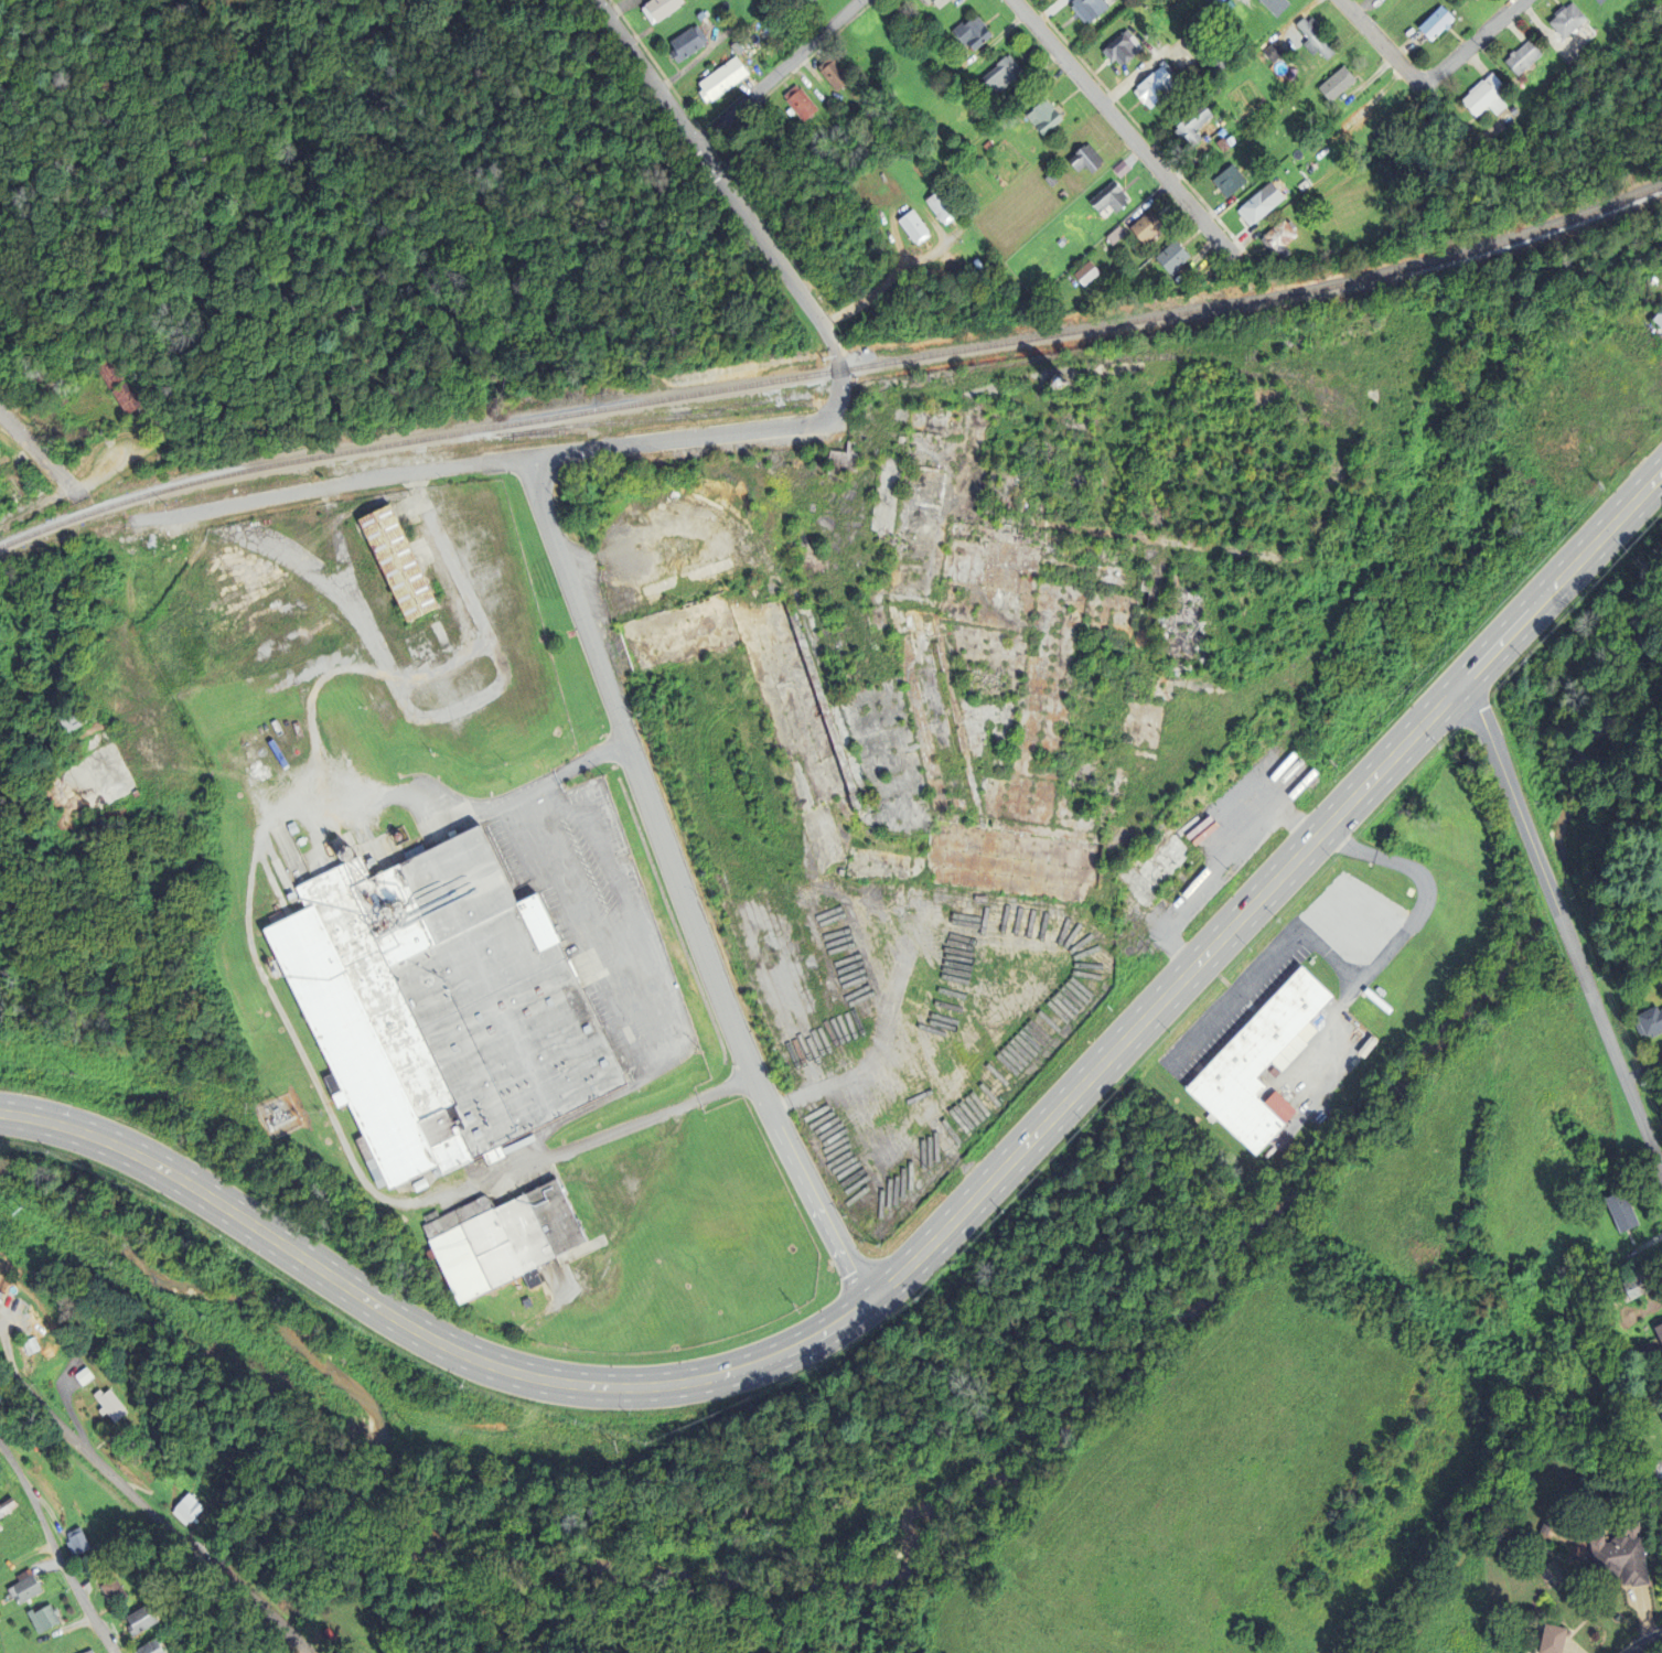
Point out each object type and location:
building: (1472, 0)
building: (808, 1)
building: (1597, 1)
building: (932, 3)
building: (656, 9)
building: (1084, 10)
building: (1563, 22)
building: (1433, 25)
building: (968, 34)
building: (1312, 41)
building: (684, 44)
road: (1376, 45)
road: (1468, 45)
building: (1119, 50)
building: (1519, 60)
building: (1218, 61)
road: (778, 74)
building: (829, 75)
building: (998, 76)
building: (718, 80)
building: (1333, 85)
building: (1151, 89)
building: (1481, 99)
building: (796, 104)
building: (1040, 118)
building: (1188, 128)
road: (1123, 132)
building: (1082, 161)
building: (1225, 182)
building: (1106, 201)
building: (937, 210)
building: (1252, 210)
building: (910, 227)
building: (1141, 229)
building: (1275, 241)
building: (1167, 259)
road: (898, 277)
building: (1658, 318)
railway: (832, 372)
building: (116, 385)
road: (39, 451)
building: (840, 460)
road: (324, 486)
road: (544, 509)
building: (394, 561)
building: (1182, 627)
building: (66, 719)
river: (1587, 723)
building: (86, 781)
river: (1545, 878)
road: (1557, 908)
building: (438, 1006)
building: (1648, 1021)
building: (1253, 1062)
power substation: (280, 1115)
road: (660, 1115)
crop: (1554, 1127)
road: (1654, 1151)
building: (1618, 1212)
road: (933, 1234)
building: (496, 1238)
building: (1636, 1285)
building: (1658, 1334)
building: (1543, 1389)
building: (107, 1406)
building: (1660, 1415)
building: (138, 1461)
crop: (1198, 1495)
building: (4, 1504)
building: (184, 1510)
road: (151, 1511)
building: (1544, 1527)
building: (73, 1542)
road: (55, 1548)
building: (1619, 1555)
river: (827, 1582)
building: (20, 1589)
building: (108, 1592)
building: (40, 1619)
building: (136, 1619)
building: (1551, 1639)
road: (1649, 1644)
building: (144, 1647)
building: (87, 1652)

